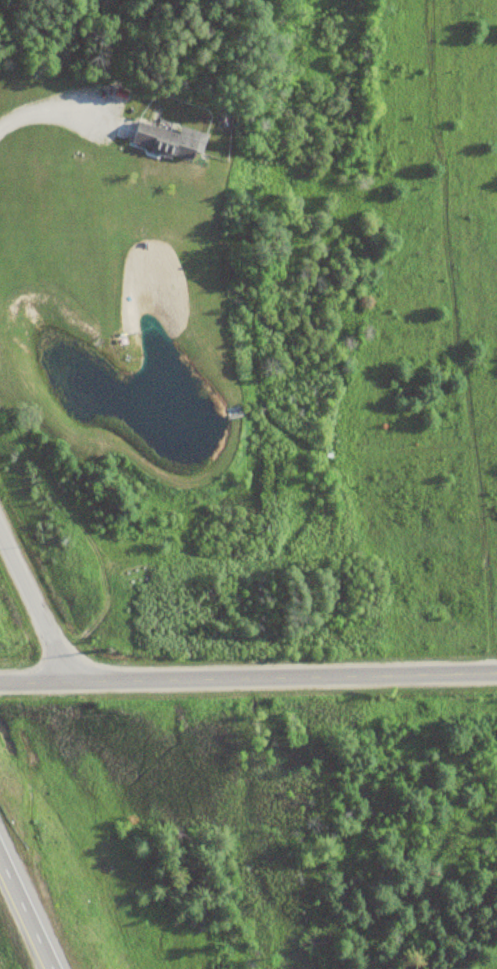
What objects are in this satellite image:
building: (165, 141)
road: (34, 603)
road: (248, 679)
road: (30, 904)

